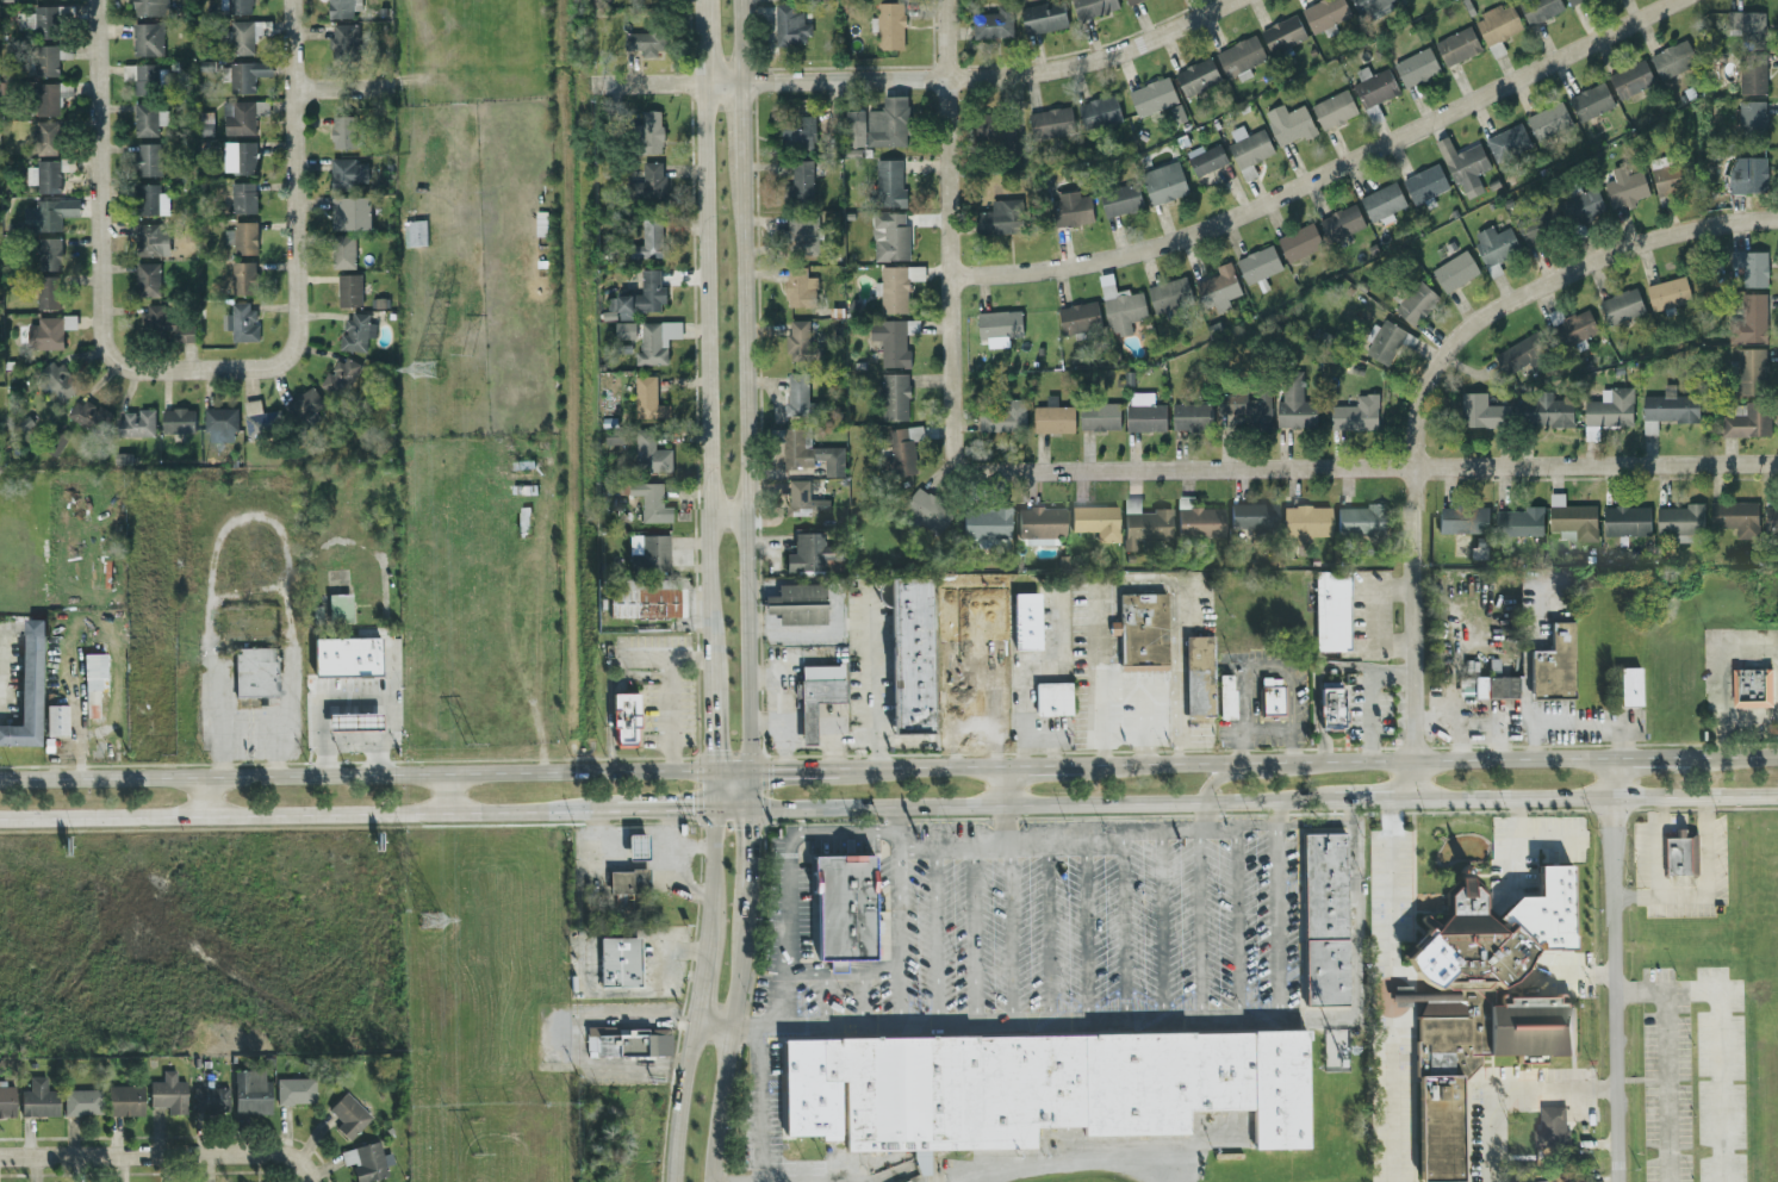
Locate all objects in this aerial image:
building: (1130, 1)
building: (1569, 1)
building: (1367, 5)
building: (237, 6)
building: (1092, 6)
building: (150, 7)
building: (341, 7)
building: (1537, 8)
building: (1324, 13)
building: (1043, 15)
building: (45, 20)
building: (991, 23)
building: (1497, 23)
building: (1745, 23)
building: (888, 24)
building: (789, 25)
building: (1282, 32)
building: (245, 35)
building: (147, 38)
building: (343, 39)
building: (645, 42)
building: (1457, 44)
building: (1238, 56)
building: (48, 58)
building: (1672, 58)
building: (1416, 66)
building: (245, 74)
building: (1196, 75)
building: (1752, 75)
building: (141, 77)
road: (916, 77)
building: (1630, 77)
building: (1373, 85)
road: (343, 87)
building: (1151, 95)
building: (50, 97)
building: (1589, 100)
building: (1333, 107)
building: (1098, 111)
building: (1751, 113)
building: (243, 116)
building: (148, 118)
building: (1548, 119)
building: (1050, 120)
building: (1288, 122)
building: (878, 124)
building: (987, 125)
building: (342, 131)
building: (649, 131)
building: (796, 131)
building: (45, 137)
building: (1506, 141)
building: (1248, 149)
building: (243, 156)
building: (1205, 157)
building: (148, 158)
building: (1462, 164)
building: (346, 172)
road: (1320, 172)
building: (1667, 174)
building: (1747, 174)
building: (44, 175)
building: (652, 180)
building: (800, 181)
building: (889, 182)
building: (1163, 182)
building: (1424, 182)
building: (1625, 188)
building: (150, 199)
building: (1120, 199)
building: (1381, 201)
building: (1581, 205)
building: (1069, 207)
building: (349, 212)
building: (48, 213)
building: (1000, 216)
building: (1341, 222)
road: (293, 223)
building: (1536, 223)
road: (98, 226)
building: (414, 231)
building: (802, 235)
building: (889, 235)
building: (241, 236)
building: (649, 237)
building: (149, 238)
road: (949, 238)
building: (1298, 241)
building: (1493, 245)
building: (343, 250)
building: (49, 253)
building: (1257, 265)
building: (1749, 265)
building: (1454, 270)
building: (242, 276)
building: (147, 279)
road: (1544, 282)
building: (895, 286)
building: (798, 287)
building: (1218, 287)
building: (348, 288)
building: (48, 292)
building: (1667, 292)
building: (1168, 293)
building: (636, 297)
building: (1416, 303)
building: (1621, 304)
building: (1119, 305)
building: (1078, 316)
building: (1747, 318)
building: (240, 321)
building: (163, 323)
building: (997, 325)
building: (1574, 325)
building: (624, 329)
building: (355, 330)
building: (49, 331)
building: (655, 340)
building: (891, 340)
building: (800, 342)
building: (1385, 342)
building: (1521, 353)
power tower: (423, 369)
building: (1751, 371)
building: (340, 375)
building: (56, 380)
road: (707, 385)
building: (797, 394)
building: (894, 396)
building: (647, 397)
building: (1293, 402)
building: (305, 403)
road: (741, 404)
building: (1247, 405)
building: (1609, 408)
building: (1666, 409)
building: (1735, 409)
building: (1480, 410)
building: (1544, 410)
building: (1144, 411)
building: (87, 413)
building: (1355, 413)
building: (1190, 415)
building: (1002, 416)
building: (1099, 416)
building: (1052, 418)
building: (176, 419)
building: (260, 419)
building: (1747, 421)
building: (137, 423)
building: (220, 423)
building: (901, 448)
building: (808, 450)
building: (649, 453)
road: (1772, 460)
road: (1367, 467)
building: (803, 500)
building: (651, 502)
building: (927, 511)
road: (727, 514)
building: (1735, 516)
building: (1771, 516)
road: (249, 517)
building: (1255, 517)
building: (1571, 518)
building: (1462, 520)
building: (1625, 520)
building: (1679, 520)
building: (1199, 521)
building: (1362, 521)
building: (1098, 522)
building: (1518, 522)
building: (987, 524)
building: (1307, 524)
building: (1145, 525)
building: (1043, 527)
building: (649, 554)
building: (809, 554)
building: (648, 601)
building: (798, 605)
road: (1175, 608)
building: (341, 609)
building: (1333, 612)
building: (1027, 622)
building: (1144, 633)
road: (1415, 634)
road: (669, 657)
building: (913, 657)
building: (348, 658)
road: (1022, 667)
building: (1554, 667)
road: (2, 672)
road: (1721, 676)
building: (1200, 677)
road: (1100, 679)
road: (874, 683)
building: (95, 684)
building: (1488, 688)
building: (1630, 688)
building: (1754, 688)
road: (1244, 689)
building: (29, 691)
road: (1317, 691)
road: (1160, 695)
building: (819, 696)
road: (1372, 696)
building: (1227, 698)
building: (1273, 698)
building: (1053, 699)
road: (1528, 703)
road: (358, 704)
building: (1332, 707)
road: (782, 709)
road: (1143, 710)
road: (1294, 710)
road: (672, 715)
road: (1749, 717)
building: (57, 721)
building: (626, 721)
road: (765, 722)
building: (356, 723)
road: (1593, 727)
road: (1055, 738)
road: (810, 744)
road: (794, 745)
road: (834, 748)
road: (1294, 755)
road: (1736, 758)
road: (1653, 759)
road: (1348, 765)
road: (1045, 769)
road: (924, 770)
road: (795, 771)
traffic signals: (711, 772)
road: (731, 772)
traffic signals: (750, 772)
road: (355, 776)
road: (1248, 777)
road: (1006, 789)
road: (711, 791)
road: (444, 795)
road: (204, 797)
road: (1597, 797)
road: (1375, 801)
road: (1040, 807)
road: (729, 809)
traffic signals: (748, 809)
road: (663, 810)
traffic signals: (711, 810)
road: (307, 816)
road: (1202, 819)
road: (896, 828)
road: (1007, 828)
road: (1125, 842)
road: (638, 844)
building: (639, 847)
road: (1661, 847)
building: (1681, 854)
road: (672, 866)
road: (788, 882)
building: (628, 883)
road: (1705, 892)
road: (1281, 912)
building: (1325, 921)
power tower: (430, 923)
road: (1238, 926)
road: (1163, 927)
road: (1201, 927)
road: (1087, 935)
road: (1125, 935)
road: (1009, 937)
road: (1046, 937)
road: (899, 938)
road: (937, 938)
road: (972, 938)
building: (621, 963)
road: (1614, 971)
road: (843, 973)
road: (586, 991)
road: (1392, 991)
road: (736, 995)
road: (697, 996)
road: (860, 1000)
road: (826, 1001)
building: (1481, 1002)
road: (1151, 1022)
road: (713, 1026)
building: (629, 1044)
road: (1720, 1058)
road: (1666, 1059)
building: (1042, 1089)
road: (1506, 1091)
building: (297, 1093)
building: (253, 1094)
building: (170, 1095)
building: (41, 1101)
building: (212, 1101)
building: (7, 1102)
building: (126, 1102)
building: (83, 1103)
road: (760, 1105)
building: (350, 1116)
building: (1552, 1128)
road: (163, 1155)
road: (1077, 1162)
building: (368, 1163)

